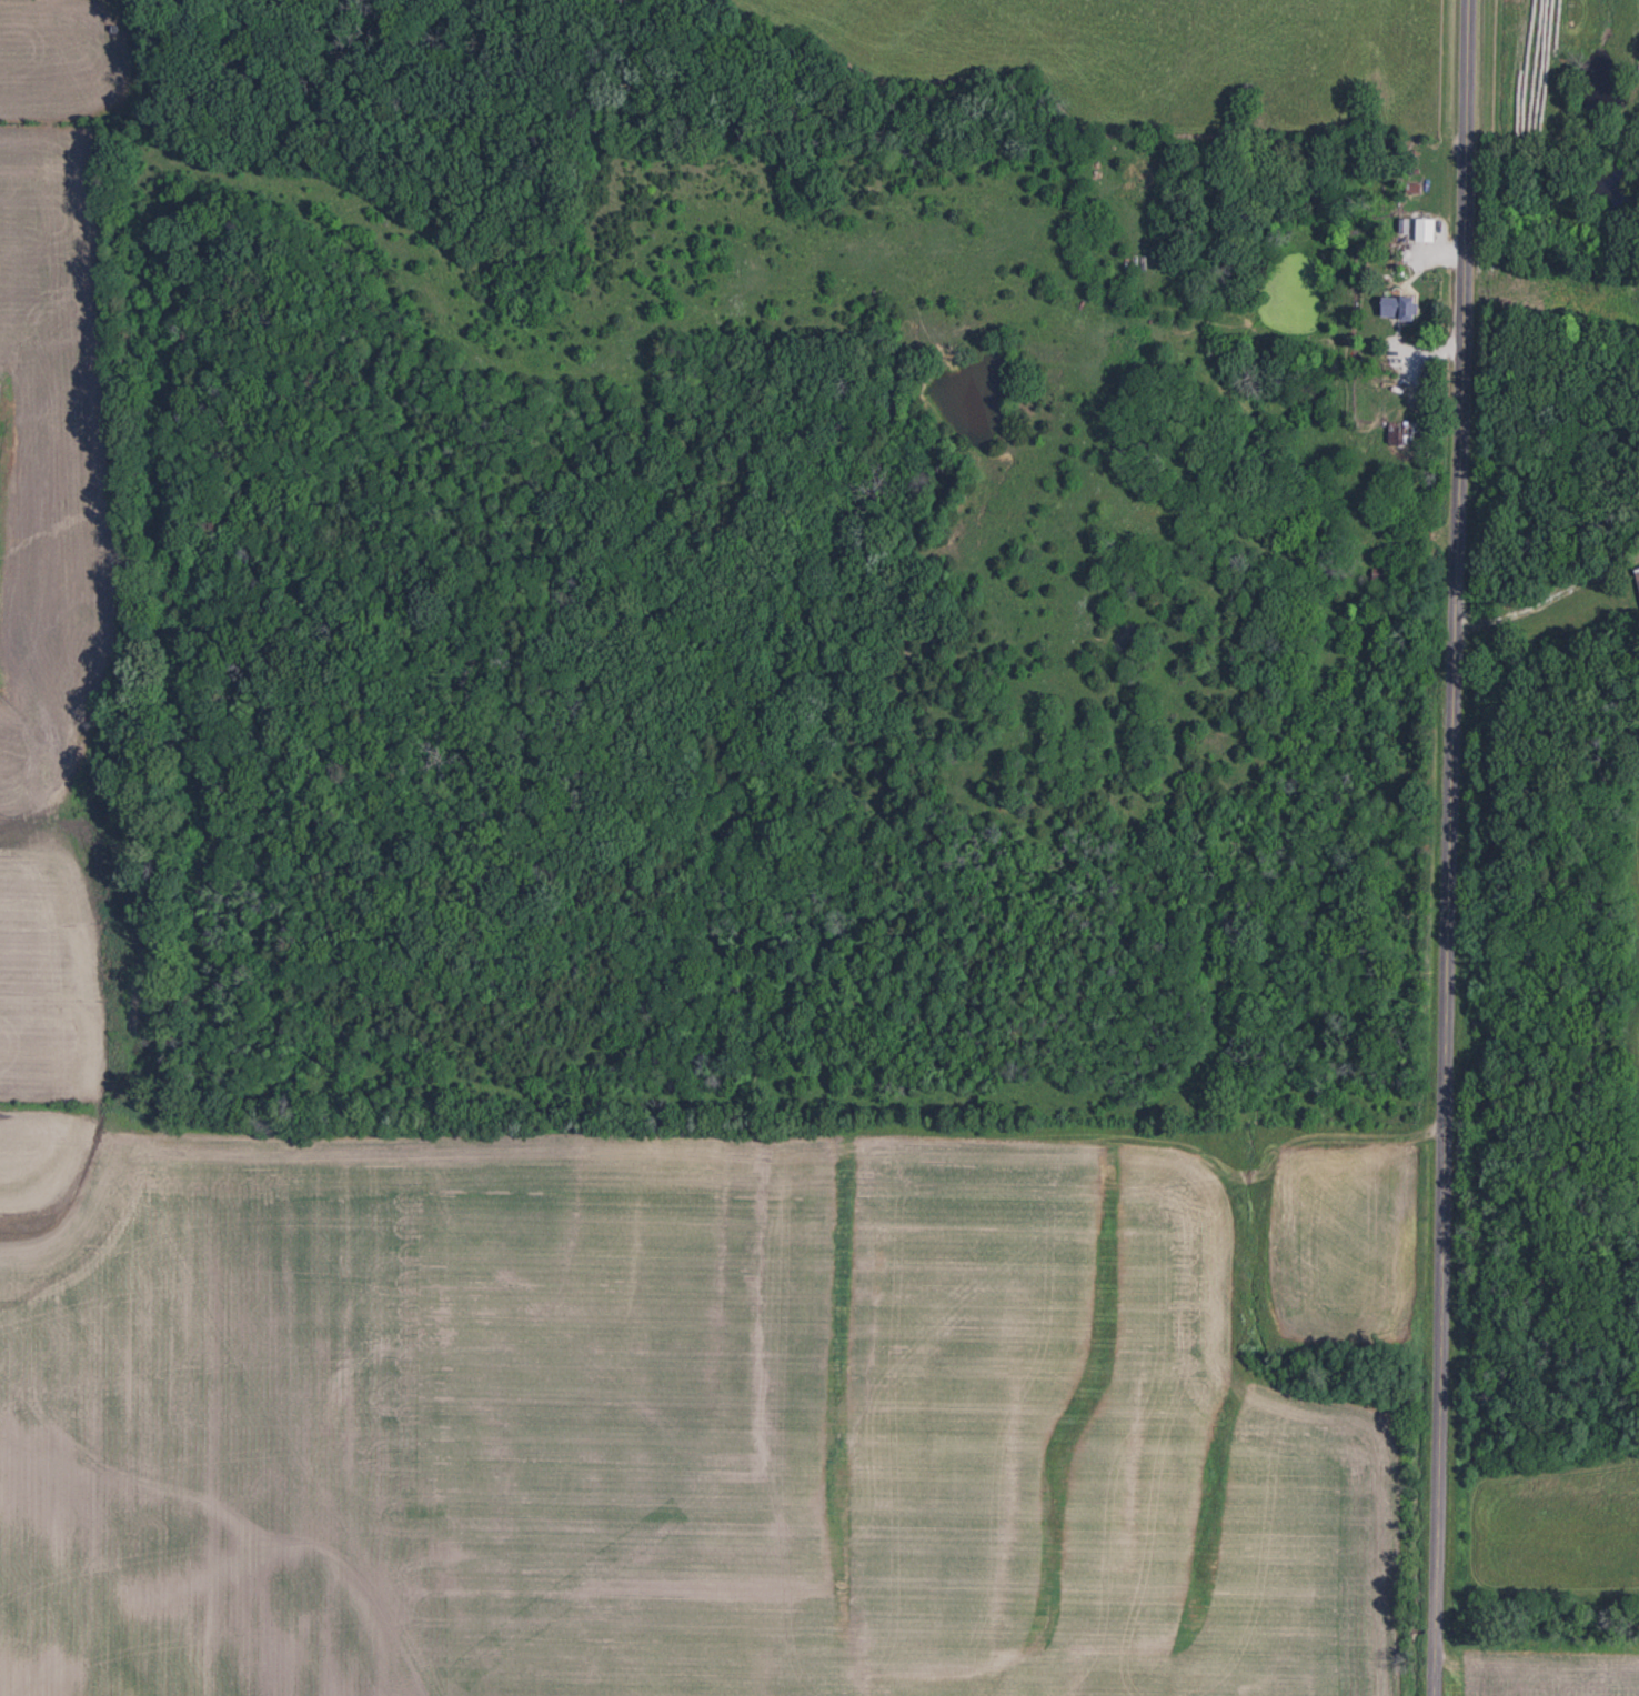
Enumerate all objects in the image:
building: (1425, 230)
building: (1398, 308)
building: (1381, 575)
building: (1637, 575)
road: (1442, 847)

